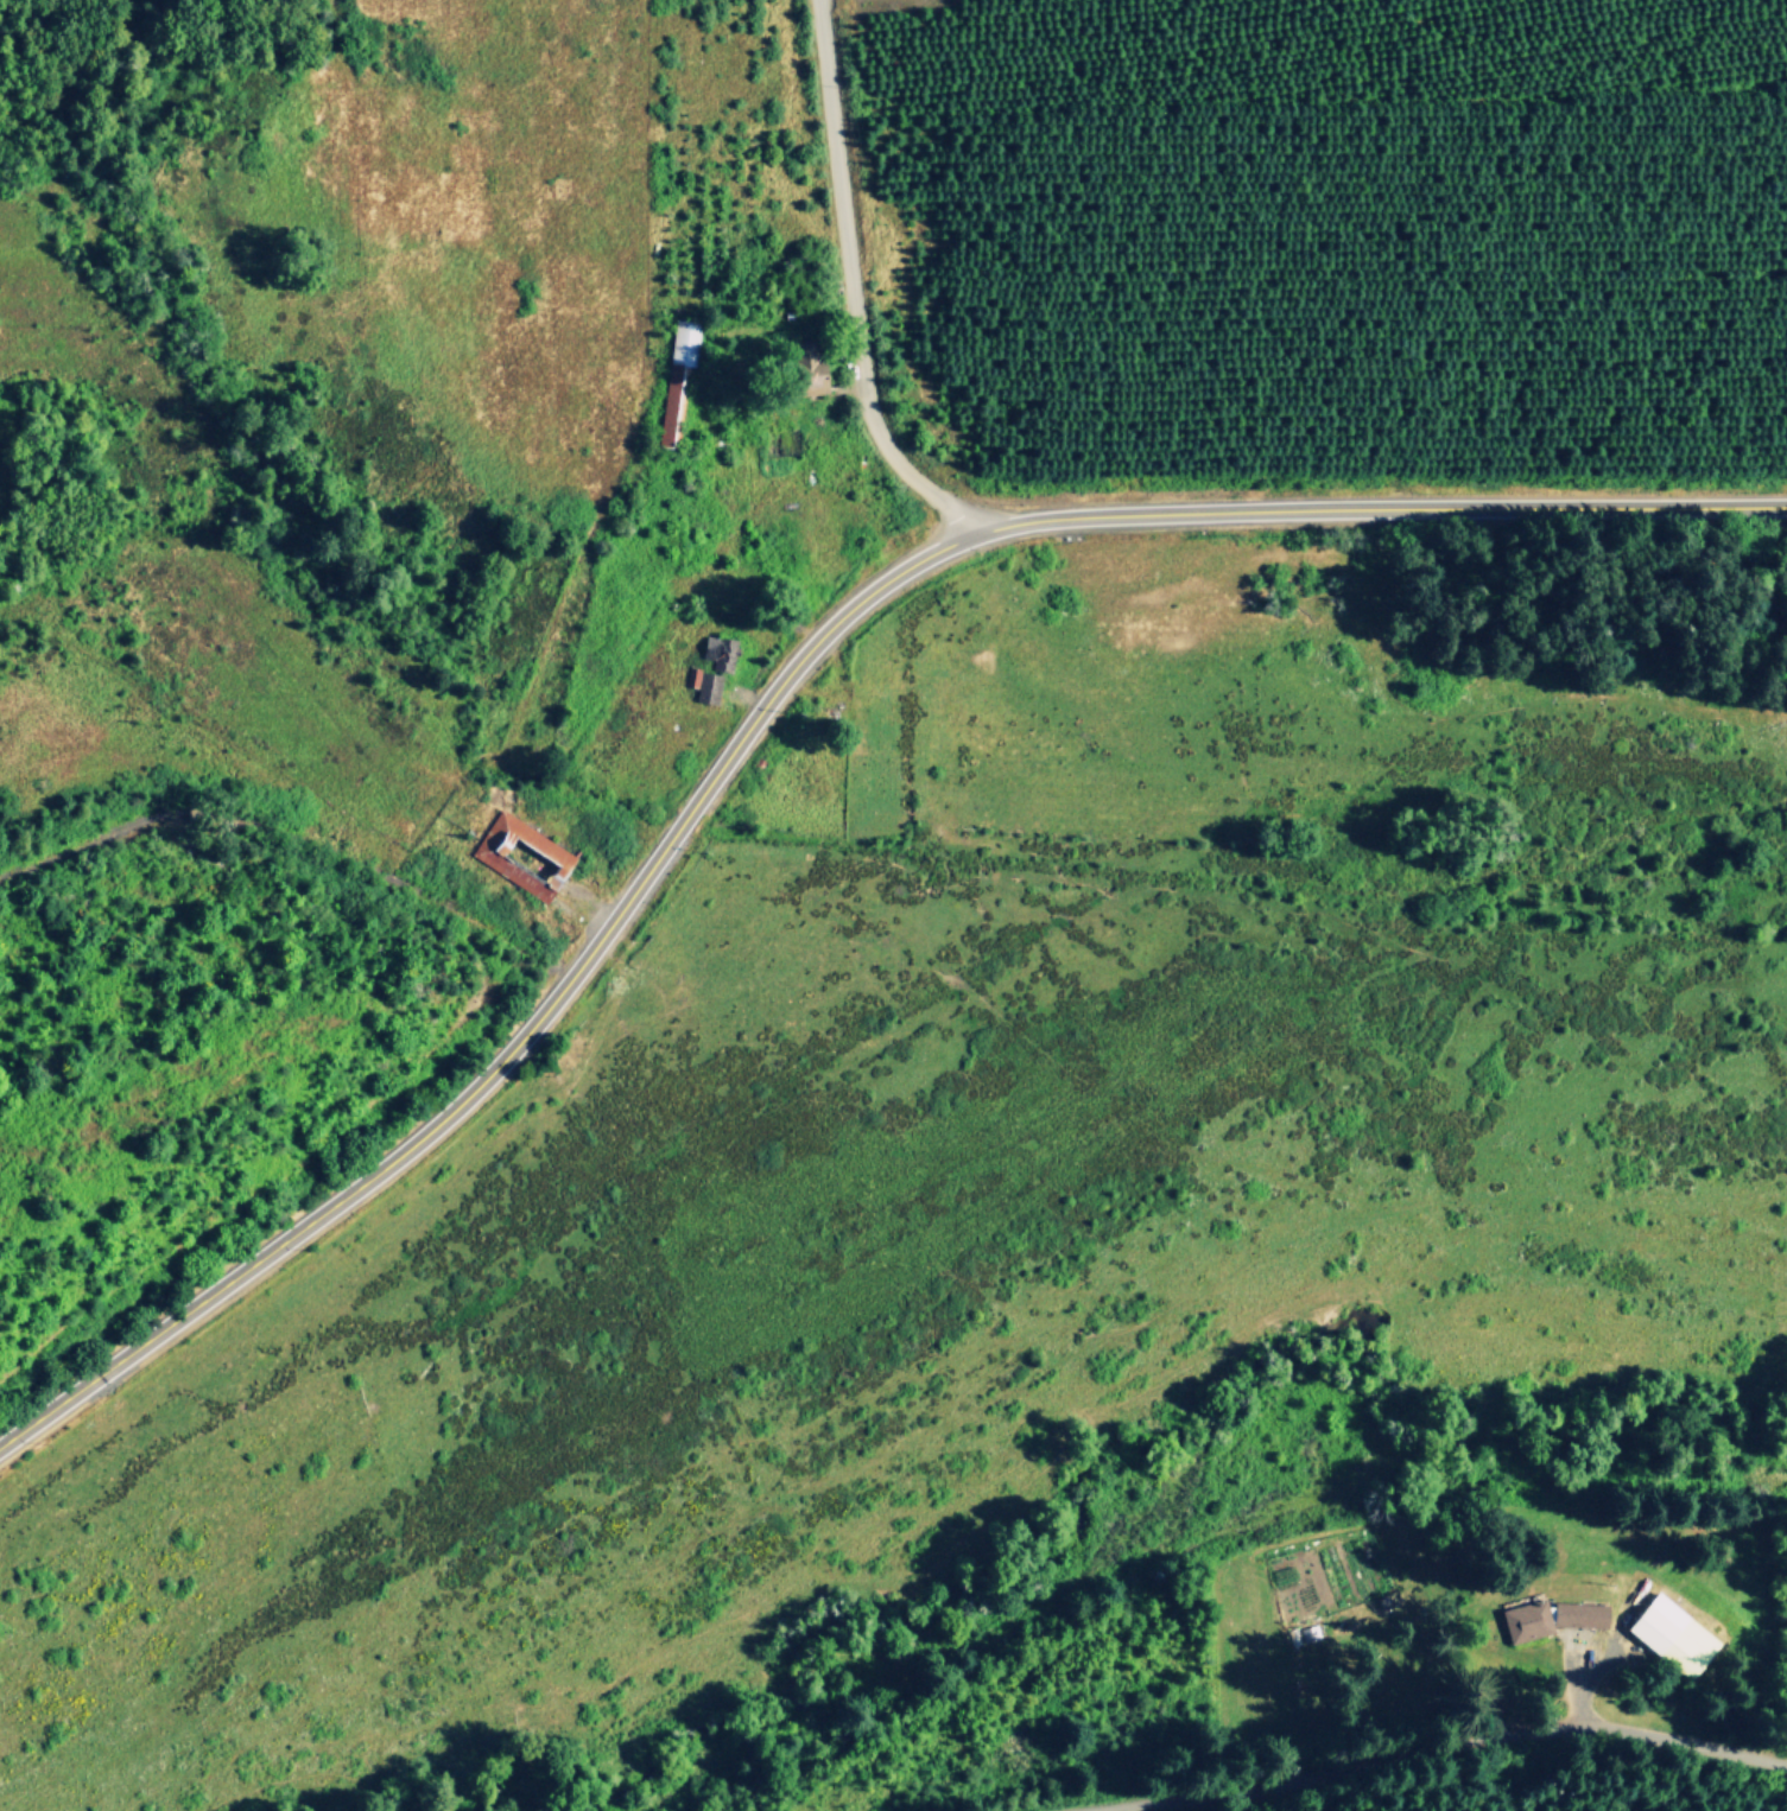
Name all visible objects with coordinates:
road: (853, 305)
building: (676, 380)
road: (767, 697)
building: (1671, 1635)
road: (1460, 1745)

